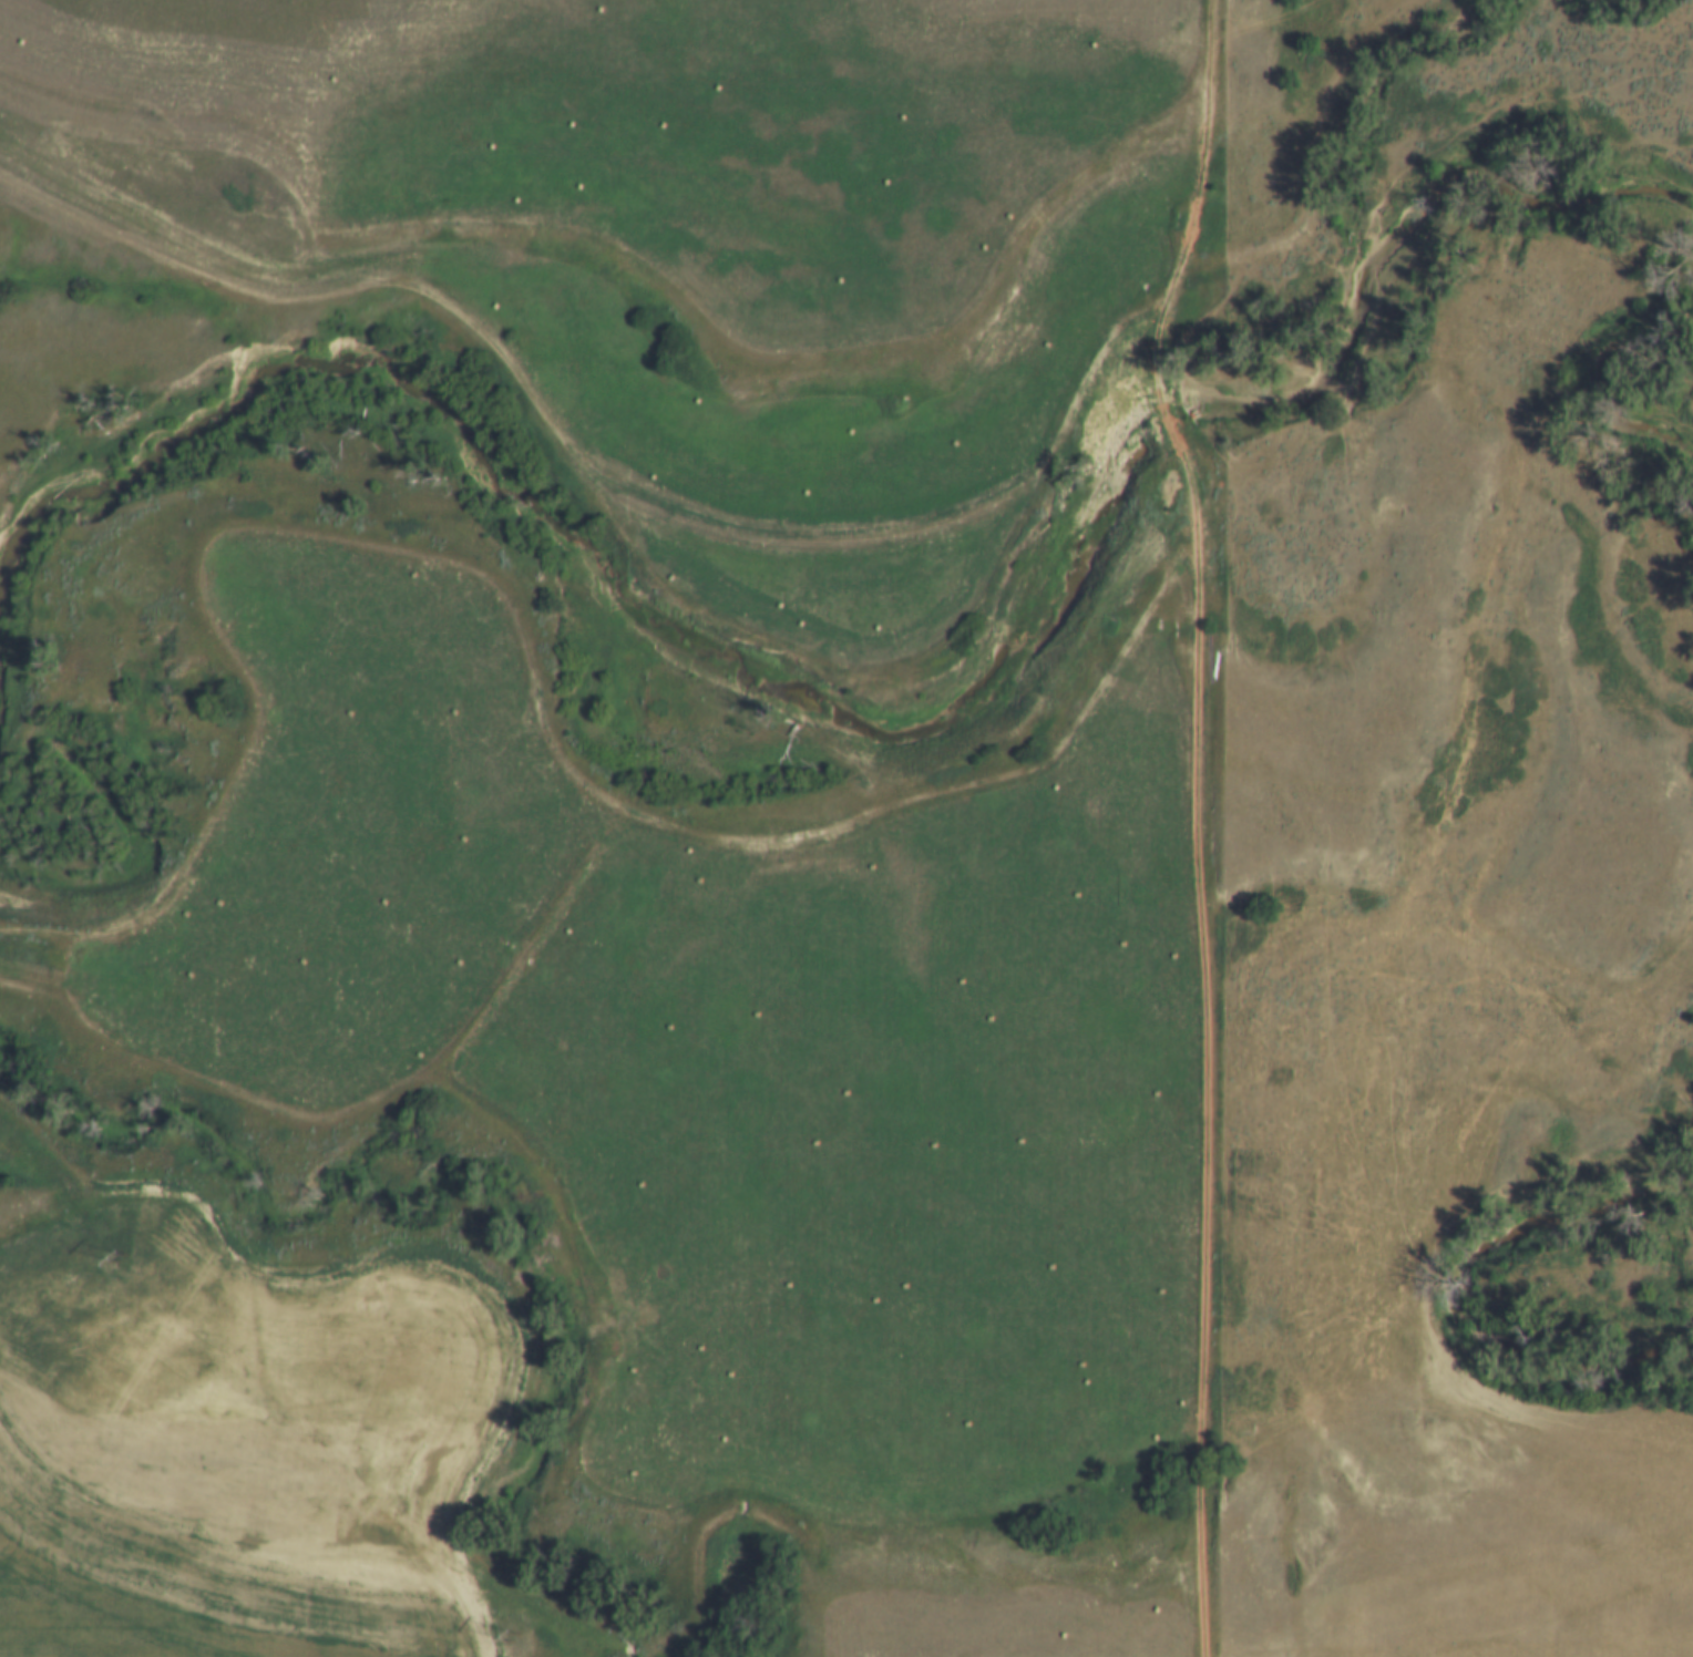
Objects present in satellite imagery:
road: (1196, 821)
road: (470, 1608)

